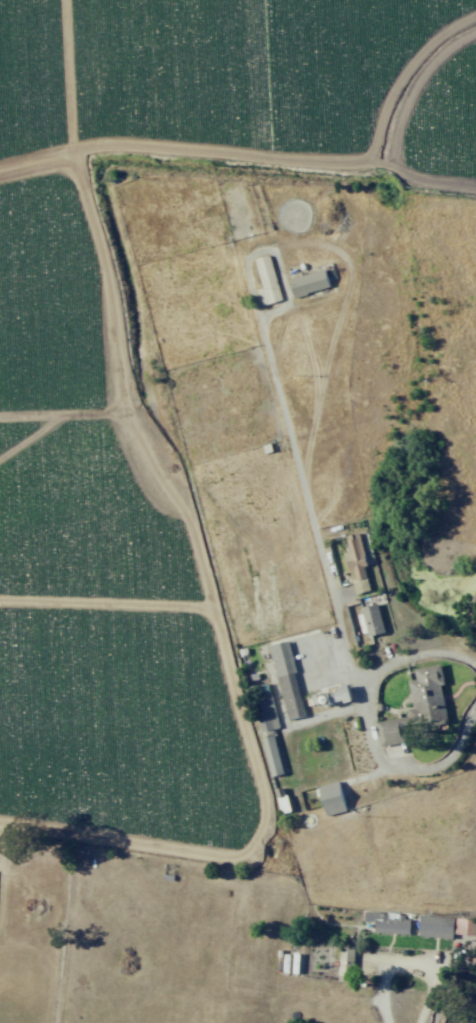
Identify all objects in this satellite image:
building: (266, 281)
building: (308, 282)
crop: (44, 425)
building: (356, 562)
road: (336, 608)
building: (372, 619)
building: (287, 680)
building: (342, 694)
building: (417, 705)
building: (270, 742)
building: (332, 798)
building: (284, 803)
crop: (428, 841)
building: (389, 922)
building: (436, 926)
building: (465, 926)
building: (347, 961)
road: (382, 993)

